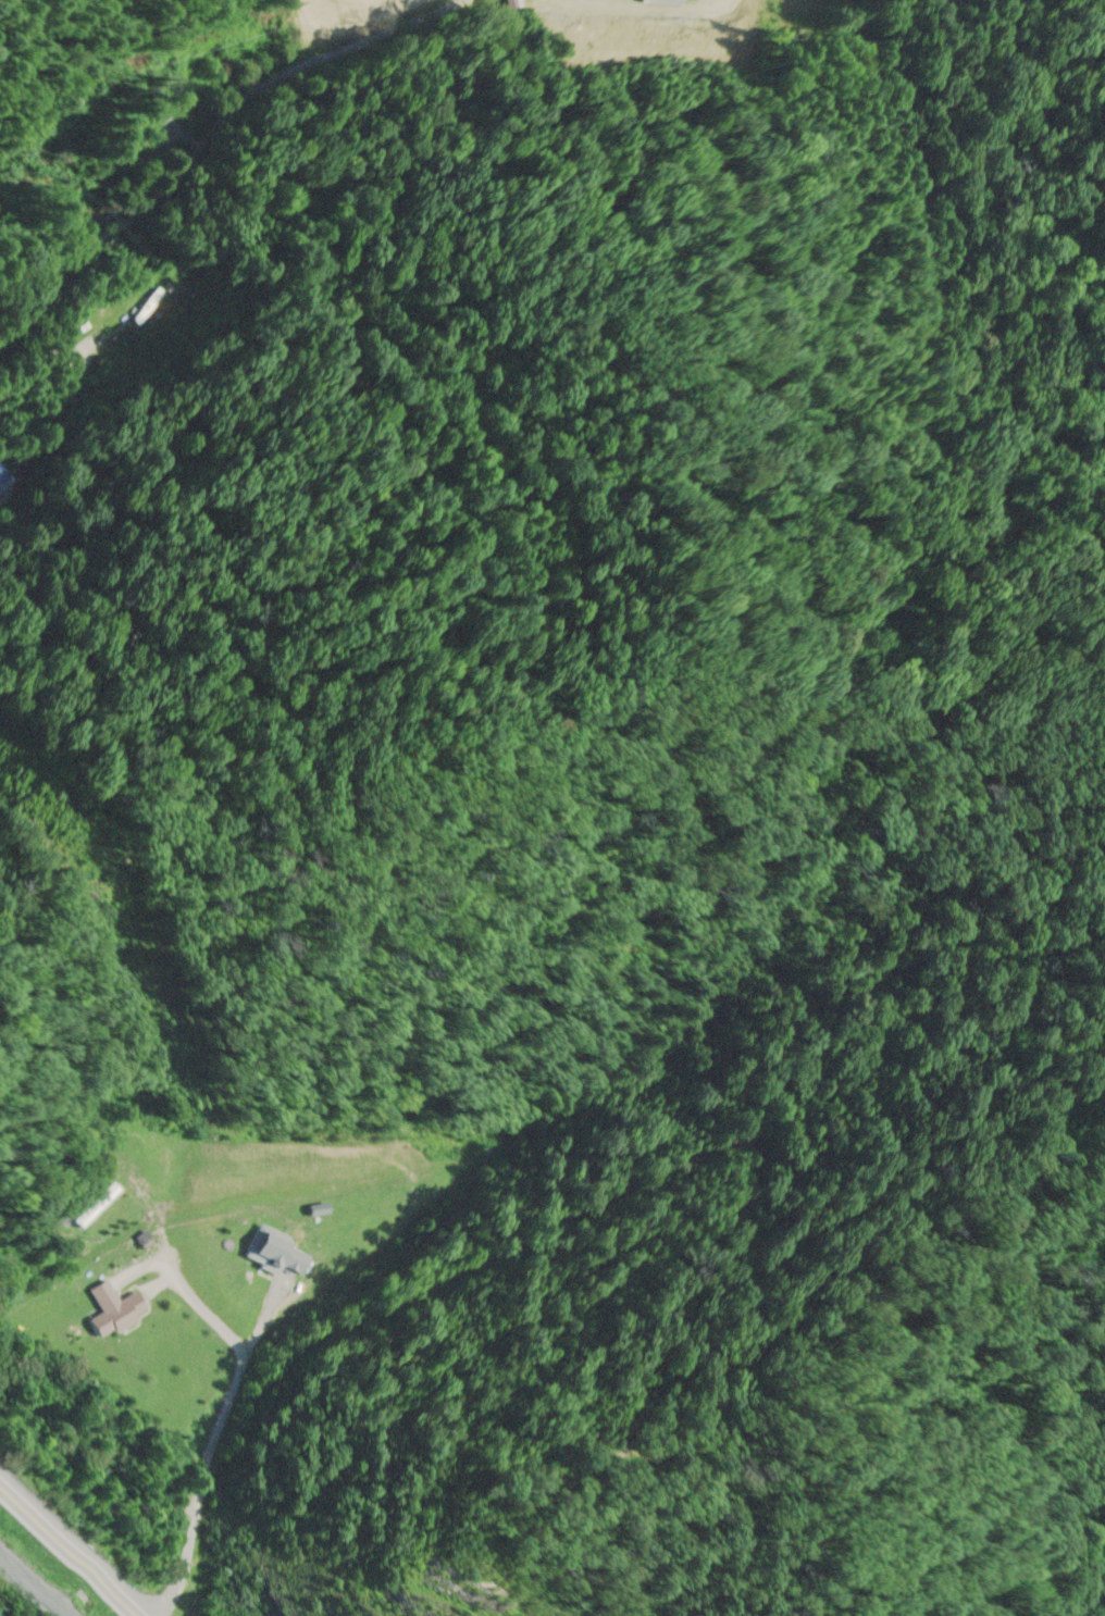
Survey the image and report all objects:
road: (288, 30)
road: (195, 138)
road: (71, 1552)

